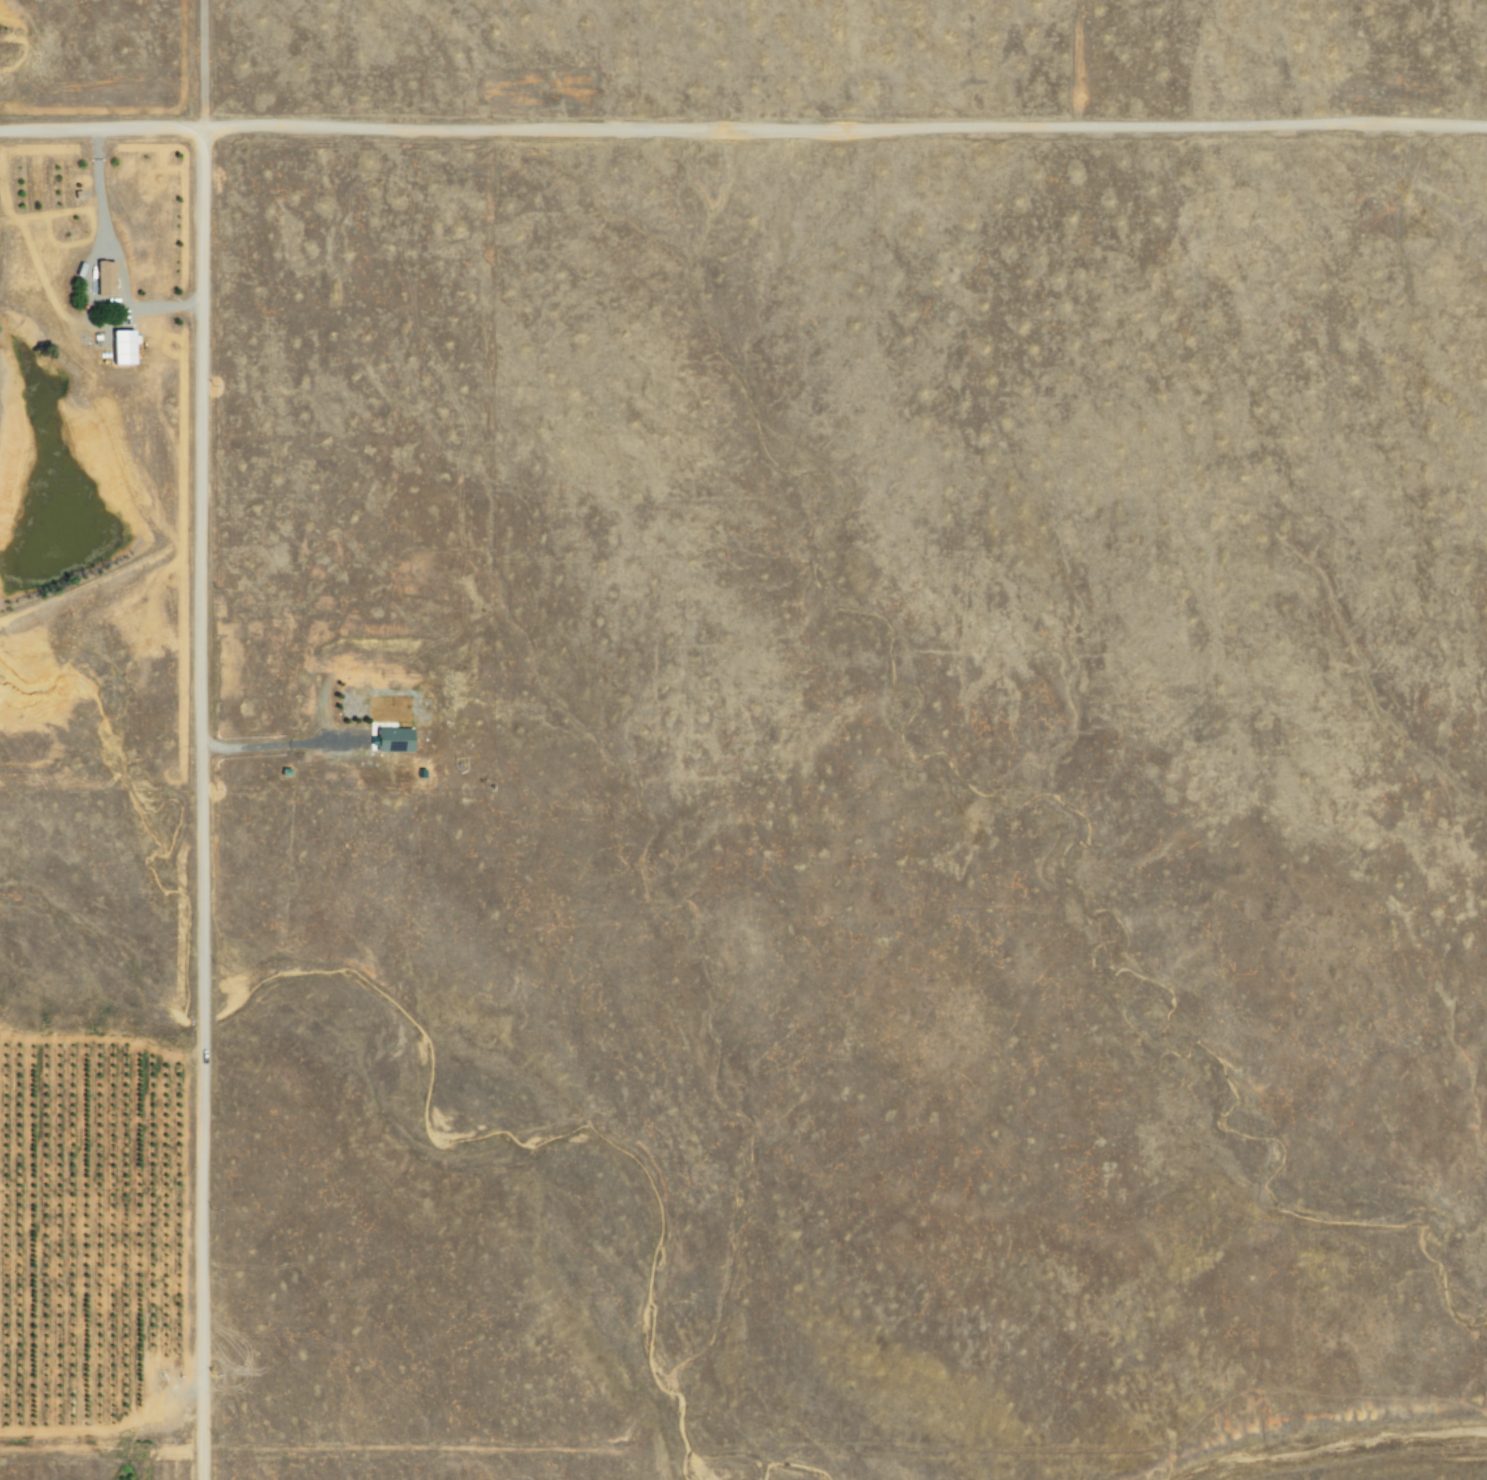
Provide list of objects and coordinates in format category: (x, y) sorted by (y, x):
road: (743, 127)
road: (112, 252)
building: (104, 278)
building: (120, 347)
dam: (77, 573)
building: (391, 739)
road: (277, 745)
road: (199, 788)
road: (843, 1448)
road: (99, 1450)
road: (199, 1465)

